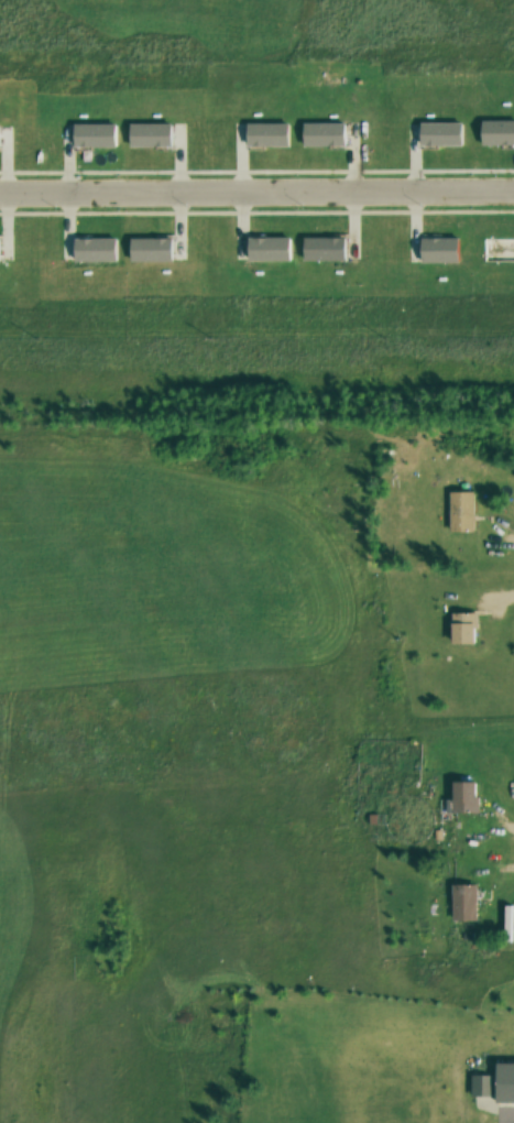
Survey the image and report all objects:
road: (256, 187)
building: (459, 510)
building: (462, 628)
building: (461, 796)
building: (460, 901)
building: (505, 923)
building: (495, 1082)
road: (494, 1103)

